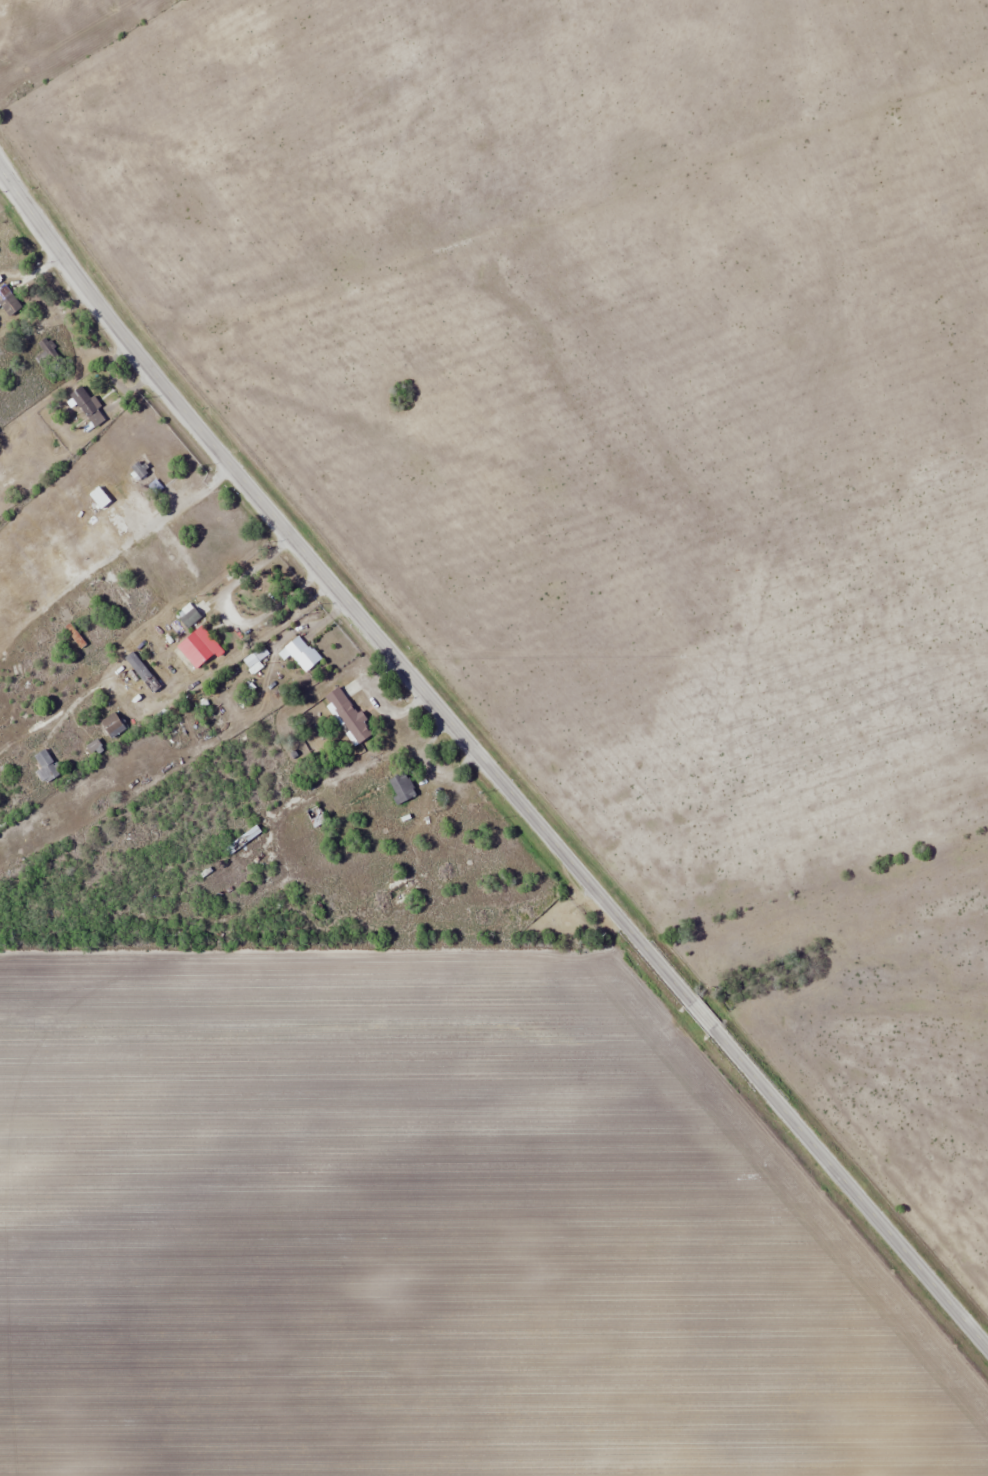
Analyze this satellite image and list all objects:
road: (7, 183)
building: (8, 300)
building: (48, 354)
building: (88, 406)
building: (137, 471)
building: (99, 497)
building: (182, 563)
building: (124, 601)
building: (188, 616)
building: (96, 625)
building: (198, 647)
building: (302, 653)
building: (55, 660)
building: (142, 671)
building: (348, 715)
building: (113, 724)
building: (46, 766)
road: (496, 776)
building: (401, 788)
building: (242, 839)

